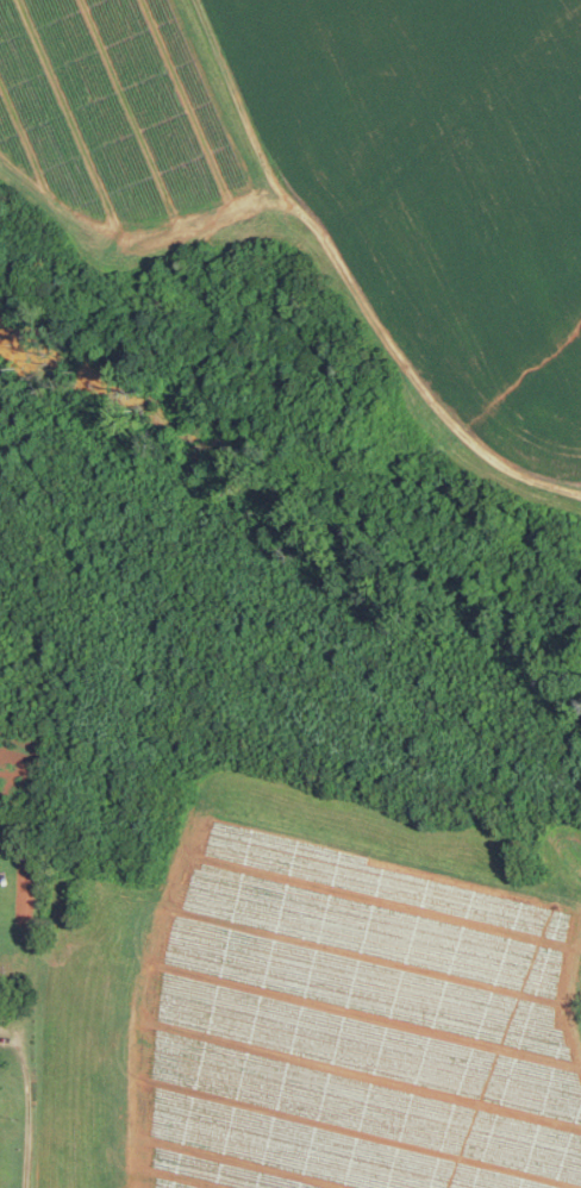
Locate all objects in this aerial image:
road: (27, 1115)

